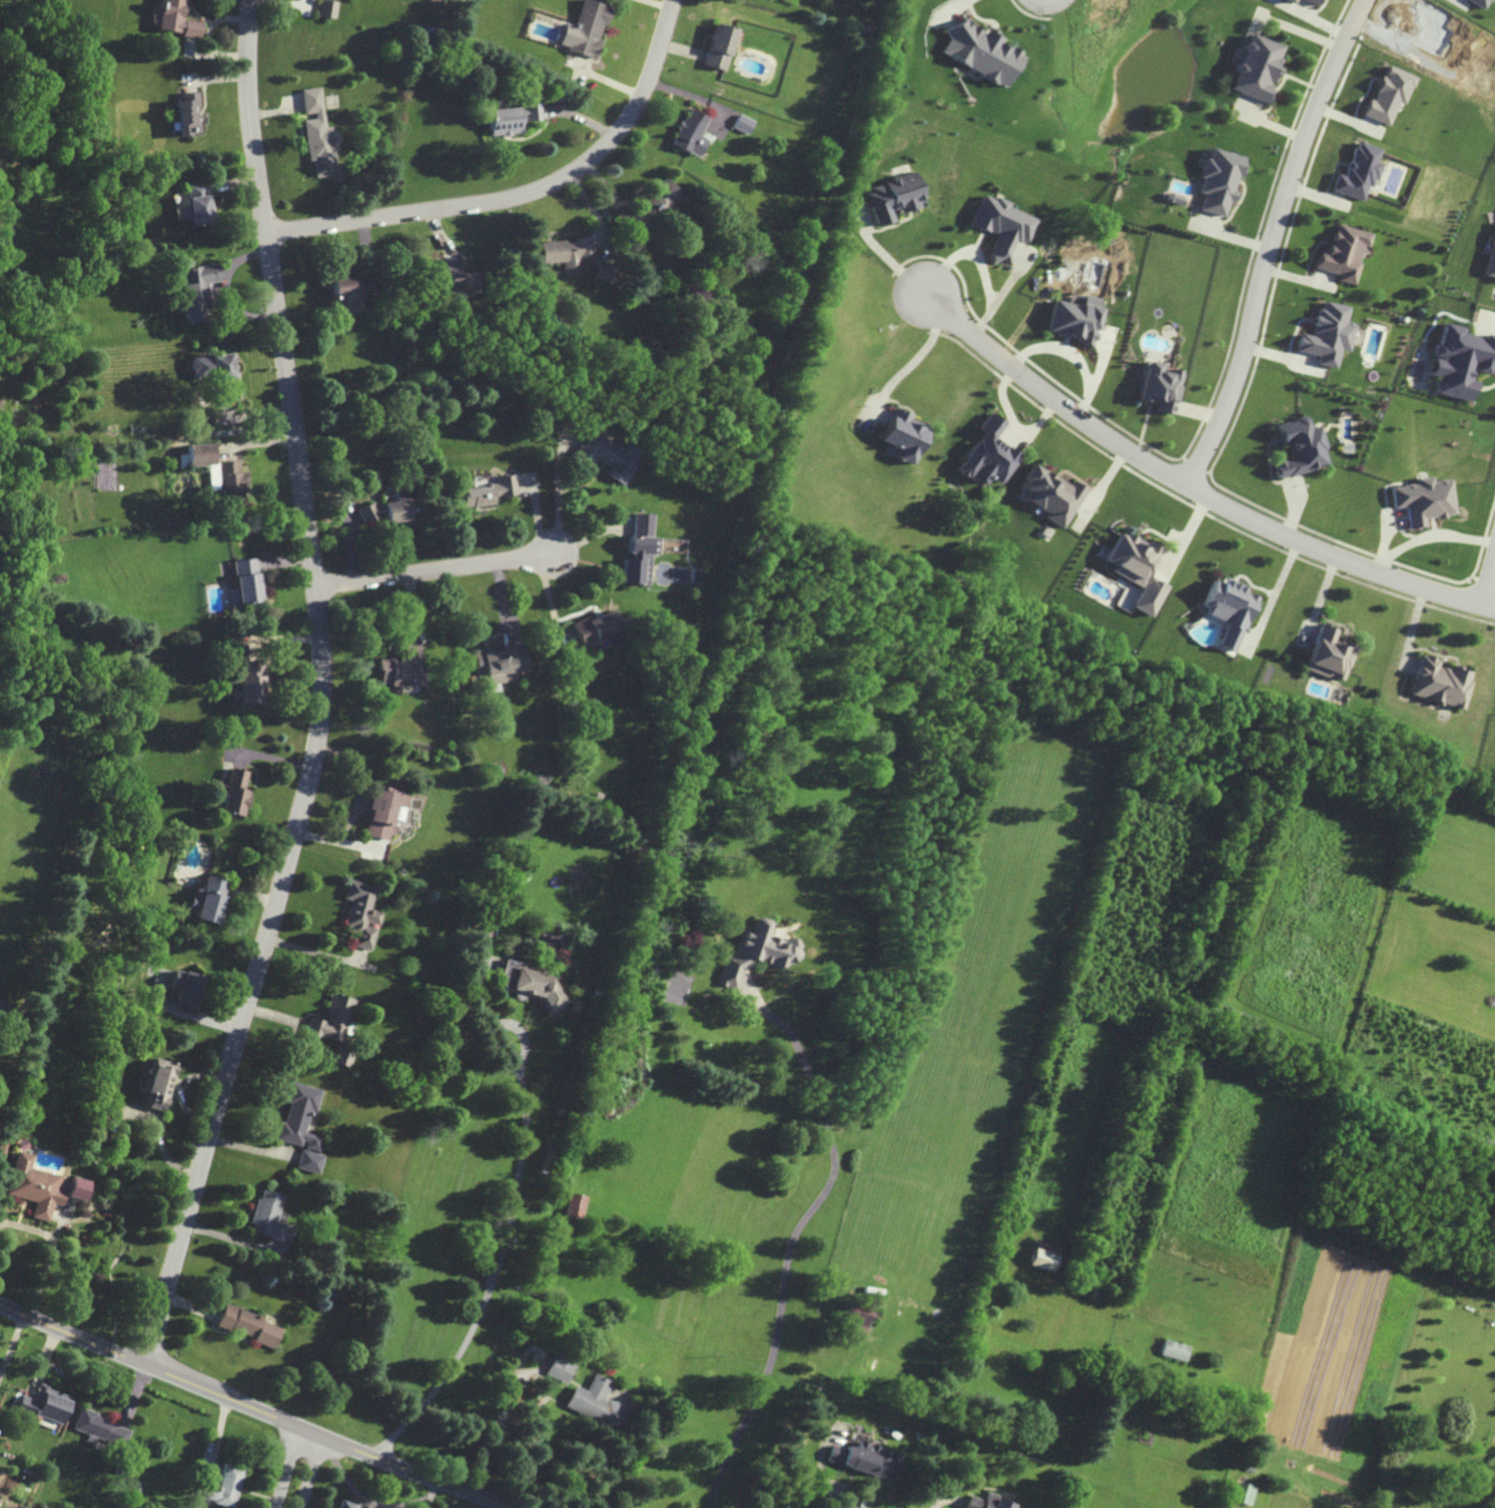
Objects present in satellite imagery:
building: (1288, 1)
building: (1310, 1)
building: (1480, 3)
building: (330, 8)
building: (177, 19)
building: (587, 28)
building: (720, 46)
building: (982, 51)
building: (1255, 68)
building: (1389, 94)
building: (188, 113)
building: (514, 118)
building: (745, 123)
building: (692, 132)
building: (321, 134)
building: (1358, 172)
building: (1217, 180)
road: (527, 194)
building: (894, 198)
building: (661, 200)
building: (198, 202)
building: (1001, 226)
road: (1271, 241)
building: (567, 251)
building: (1345, 252)
building: (1491, 263)
building: (458, 279)
building: (353, 286)
building: (196, 288)
building: (1074, 319)
building: (1328, 334)
road: (1069, 358)
road: (915, 360)
building: (1462, 361)
building: (216, 374)
building: (1160, 386)
building: (902, 435)
building: (1302, 448)
building: (611, 454)
building: (988, 455)
building: (220, 474)
road: (1190, 487)
building: (490, 492)
building: (1052, 495)
building: (1425, 500)
building: (388, 510)
building: (641, 551)
building: (1138, 570)
road: (440, 572)
building: (247, 580)
road: (1489, 585)
building: (1230, 610)
building: (597, 627)
building: (1330, 654)
building: (506, 663)
building: (481, 665)
building: (405, 668)
building: (1441, 682)
building: (251, 683)
road: (325, 692)
building: (237, 792)
building: (386, 809)
building: (210, 899)
building: (363, 913)
building: (756, 952)
building: (533, 984)
building: (187, 988)
building: (160, 1085)
building: (303, 1125)
building: (36, 1186)
building: (77, 1188)
building: (575, 1206)
building: (273, 1217)
road: (512, 1219)
road: (788, 1249)
road: (52, 1252)
building: (1047, 1256)
building: (858, 1318)
building: (251, 1325)
building: (1176, 1350)
building: (561, 1366)
building: (46, 1404)
building: (596, 1404)
road: (254, 1408)
building: (102, 1428)
road: (495, 1438)
building: (867, 1460)
road: (289, 1468)
road: (314, 1473)
road: (836, 1481)
building: (227, 1486)
building: (1246, 1493)
road: (941, 1501)
building: (988, 1502)
building: (349, 1504)

